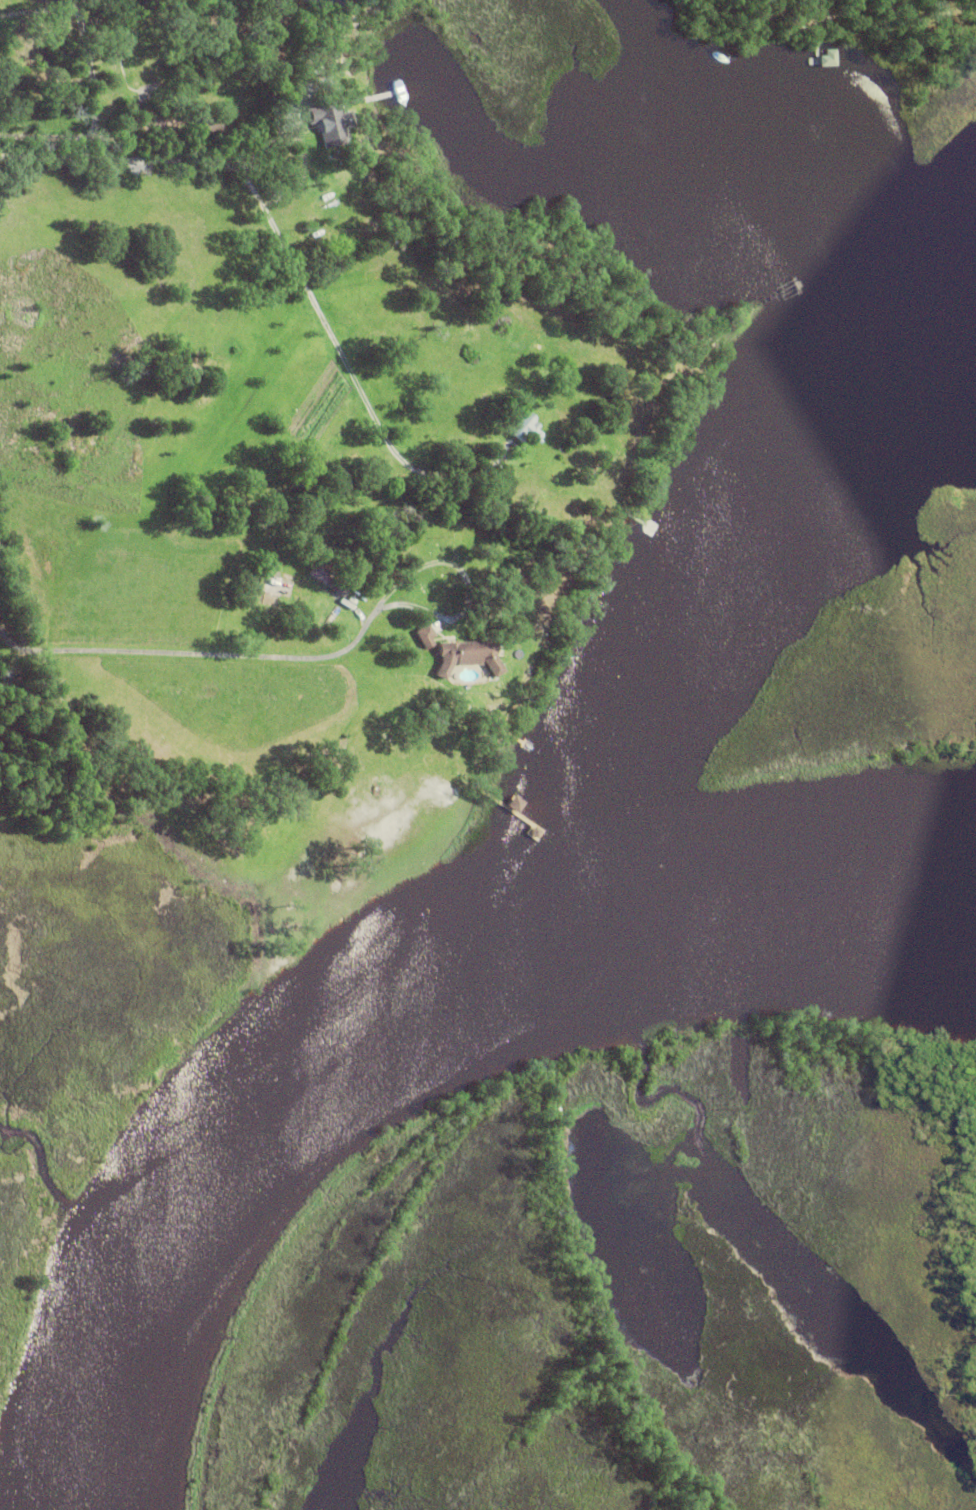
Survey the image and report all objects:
building: (827, 57)
road: (97, 82)
building: (330, 121)
building: (208, 122)
building: (313, 156)
road: (285, 247)
building: (508, 399)
building: (526, 427)
building: (578, 458)
building: (589, 471)
building: (306, 475)
building: (353, 485)
building: (329, 579)
building: (273, 580)
building: (424, 635)
road: (182, 652)
building: (466, 656)
building: (509, 804)
river: (392, 1017)

